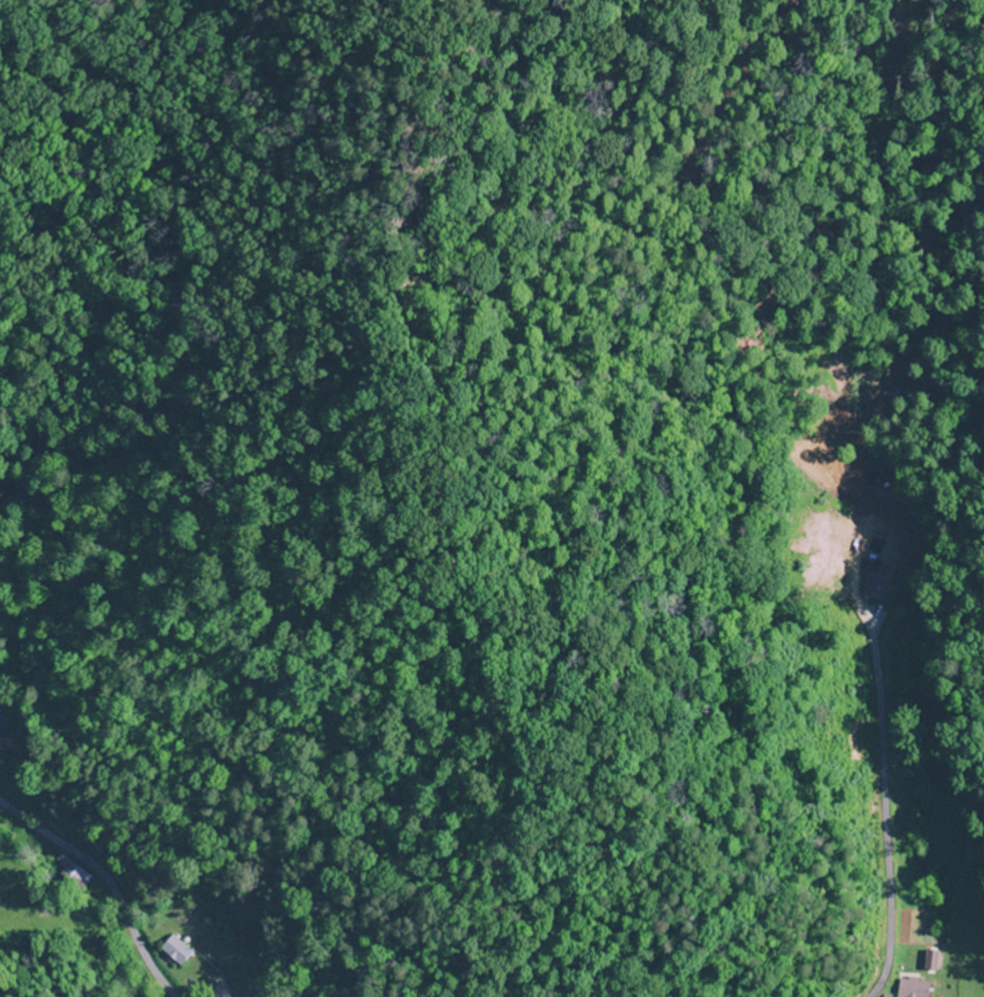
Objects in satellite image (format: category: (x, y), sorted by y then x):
building: (875, 583)
road: (113, 803)
road: (892, 804)
road: (102, 888)
building: (173, 951)
building: (910, 988)

